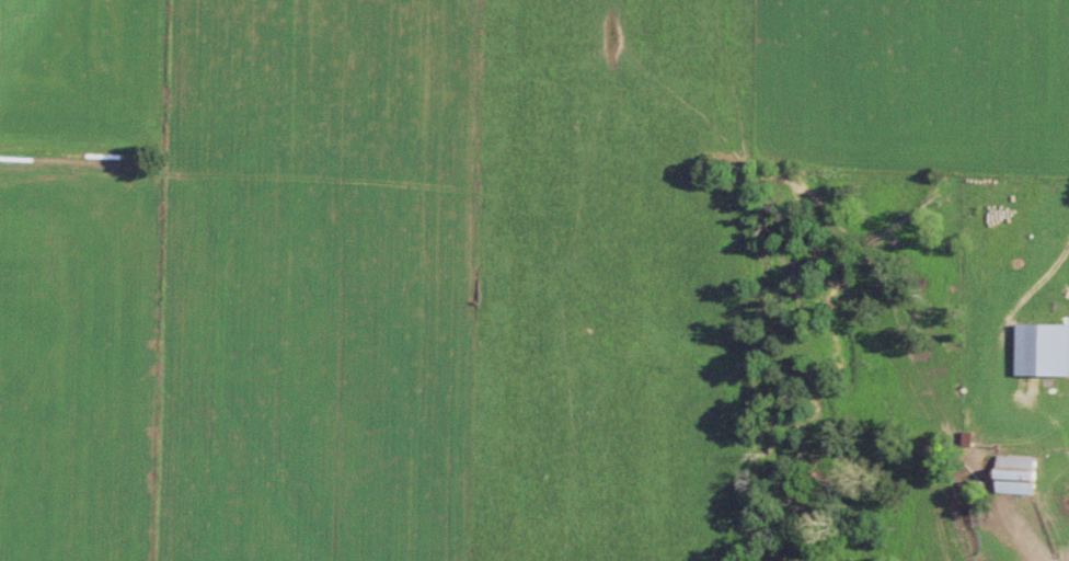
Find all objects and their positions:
building: (1044, 350)
building: (1019, 474)

